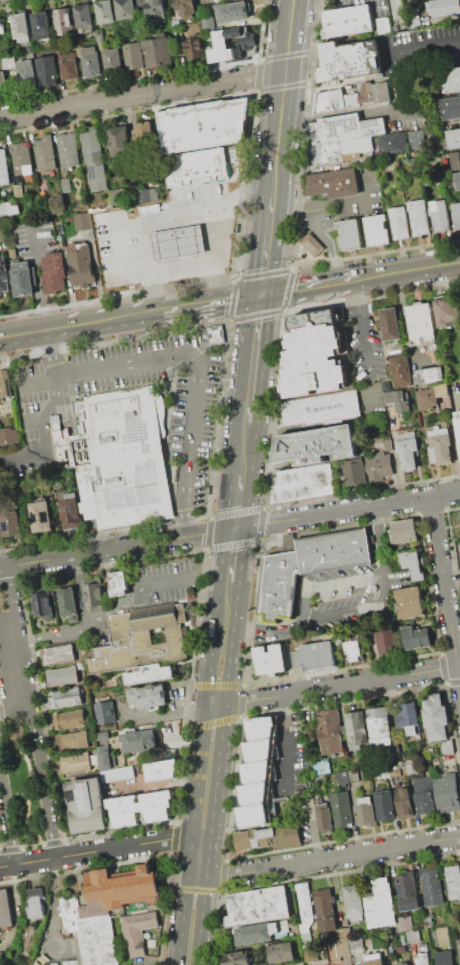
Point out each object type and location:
building: (218, 0)
building: (411, 1)
building: (444, 7)
building: (184, 8)
building: (126, 10)
building: (106, 11)
building: (156, 11)
building: (232, 12)
building: (84, 15)
building: (63, 21)
building: (348, 21)
building: (413, 22)
building: (209, 23)
building: (383, 25)
building: (41, 26)
building: (21, 27)
building: (99, 34)
road: (369, 39)
building: (231, 43)
road: (331, 44)
building: (194, 48)
road: (424, 48)
road: (304, 49)
building: (158, 52)
building: (134, 56)
building: (114, 60)
building: (349, 60)
building: (92, 61)
building: (8, 62)
building: (70, 66)
building: (47, 70)
building: (28, 72)
building: (453, 79)
building: (2, 82)
building: (375, 92)
road: (142, 94)
road: (281, 99)
building: (335, 101)
building: (450, 108)
road: (335, 113)
building: (204, 126)
building: (345, 128)
building: (144, 136)
building: (454, 138)
building: (120, 141)
building: (403, 141)
building: (68, 150)
building: (341, 152)
building: (45, 153)
building: (94, 159)
building: (22, 160)
building: (199, 160)
building: (456, 160)
building: (4, 168)
building: (457, 180)
building: (334, 183)
building: (66, 185)
building: (42, 188)
building: (17, 190)
building: (118, 196)
building: (144, 196)
road: (318, 203)
road: (192, 205)
building: (8, 210)
building: (440, 214)
building: (456, 215)
building: (419, 217)
building: (82, 221)
building: (399, 223)
road: (223, 228)
building: (377, 231)
road: (317, 232)
building: (349, 235)
road: (188, 236)
building: (0, 237)
road: (168, 240)
building: (178, 242)
road: (264, 245)
building: (312, 245)
building: (12, 253)
road: (151, 262)
road: (208, 263)
building: (81, 265)
road: (119, 265)
road: (409, 269)
building: (53, 272)
building: (4, 276)
building: (23, 279)
road: (309, 285)
traffic signals: (260, 293)
road: (209, 301)
building: (448, 313)
road: (103, 320)
building: (422, 322)
building: (390, 325)
road: (365, 327)
road: (24, 333)
building: (218, 334)
building: (320, 353)
road: (190, 355)
road: (252, 359)
building: (401, 373)
building: (430, 375)
building: (5, 385)
building: (432, 395)
building: (398, 401)
building: (319, 410)
parking lot: (195, 411)
road: (48, 415)
road: (38, 421)
building: (458, 422)
building: (8, 436)
building: (316, 445)
building: (440, 446)
building: (408, 448)
road: (242, 451)
building: (119, 457)
building: (379, 465)
building: (355, 473)
building: (302, 483)
road: (236, 502)
road: (432, 506)
road: (263, 508)
road: (347, 509)
building: (70, 511)
building: (459, 513)
building: (41, 517)
building: (12, 525)
traffic signals: (234, 528)
building: (404, 531)
road: (198, 533)
road: (160, 540)
road: (242, 553)
road: (78, 554)
road: (380, 554)
building: (413, 563)
building: (307, 567)
road: (452, 578)
road: (346, 583)
building: (119, 584)
building: (94, 593)
road: (446, 599)
parking lot: (340, 600)
parking lot: (127, 601)
building: (68, 602)
building: (410, 602)
road: (116, 607)
building: (42, 608)
road: (341, 612)
road: (284, 629)
road: (9, 637)
building: (416, 638)
building: (142, 639)
building: (386, 641)
building: (353, 650)
building: (57, 655)
building: (319, 656)
building: (271, 659)
building: (149, 673)
building: (60, 676)
road: (331, 686)
building: (64, 698)
building: (148, 698)
road: (241, 702)
road: (9, 704)
road: (166, 711)
building: (106, 714)
building: (408, 717)
building: (436, 717)
building: (67, 719)
building: (380, 726)
building: (261, 727)
building: (356, 729)
building: (330, 732)
building: (75, 740)
road: (286, 741)
building: (138, 742)
road: (201, 745)
building: (447, 747)
building: (259, 749)
building: (105, 760)
building: (74, 763)
building: (403, 764)
building: (321, 766)
building: (411, 766)
building: (395, 769)
building: (160, 770)
building: (256, 770)
building: (384, 771)
building: (124, 773)
road: (217, 773)
road: (41, 774)
building: (353, 774)
building: (343, 778)
park: (22, 782)
road: (28, 784)
building: (254, 792)
building: (436, 795)
building: (404, 803)
building: (87, 805)
building: (385, 806)
building: (140, 808)
building: (341, 808)
building: (365, 812)
building: (253, 814)
road: (7, 815)
building: (325, 819)
road: (316, 832)
road: (201, 838)
building: (268, 838)
road: (95, 850)
road: (333, 857)
road: (197, 873)
building: (453, 881)
building: (432, 886)
building: (408, 890)
building: (36, 902)
building: (352, 902)
building: (381, 904)
building: (258, 906)
building: (304, 907)
building: (5, 908)
building: (103, 910)
building: (325, 910)
building: (405, 923)
building: (137, 930)
building: (257, 933)
building: (413, 935)
building: (443, 936)
building: (459, 943)
building: (345, 945)
building: (401, 948)
building: (282, 952)
building: (446, 957)
building: (236, 958)
building: (424, 959)
building: (375, 962)
building: (298, 964)
building: (327, 964)
building: (406, 964)

